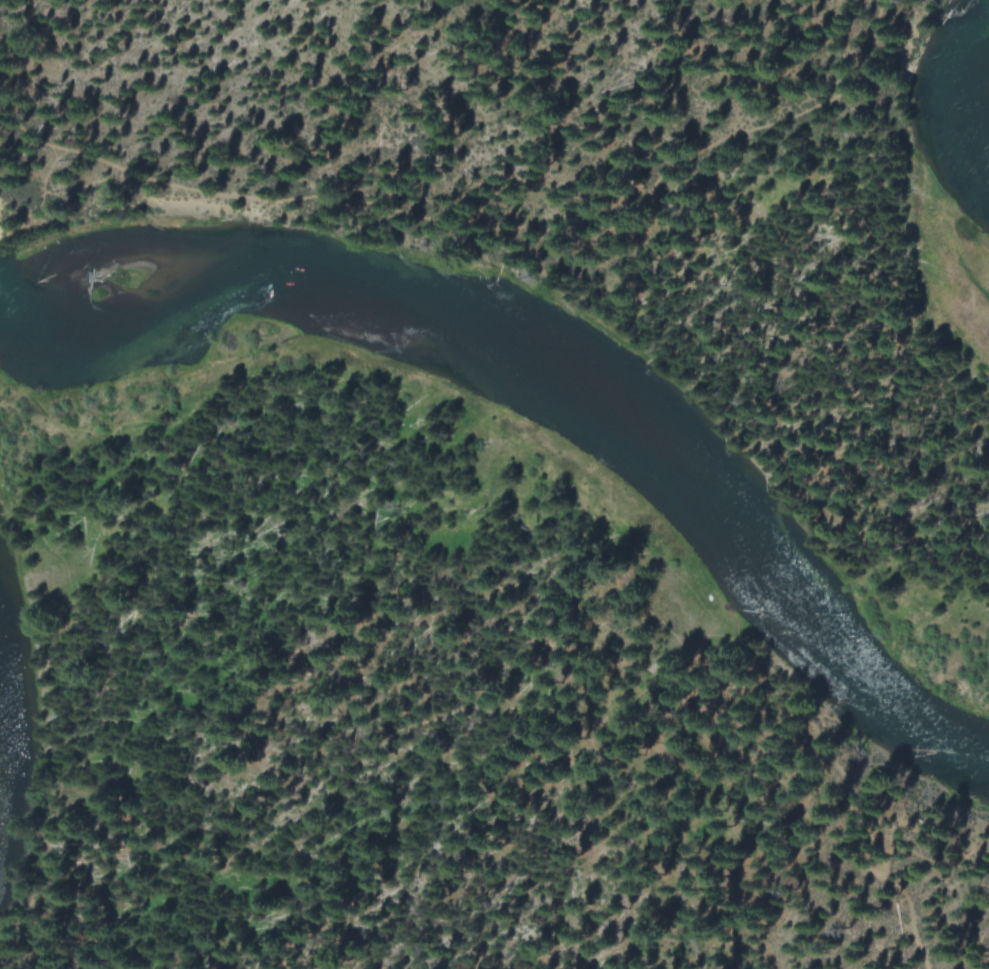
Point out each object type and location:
river: (951, 87)
road: (480, 227)
river: (559, 377)
road: (424, 491)
river: (7, 741)
road: (666, 780)
road: (912, 915)

